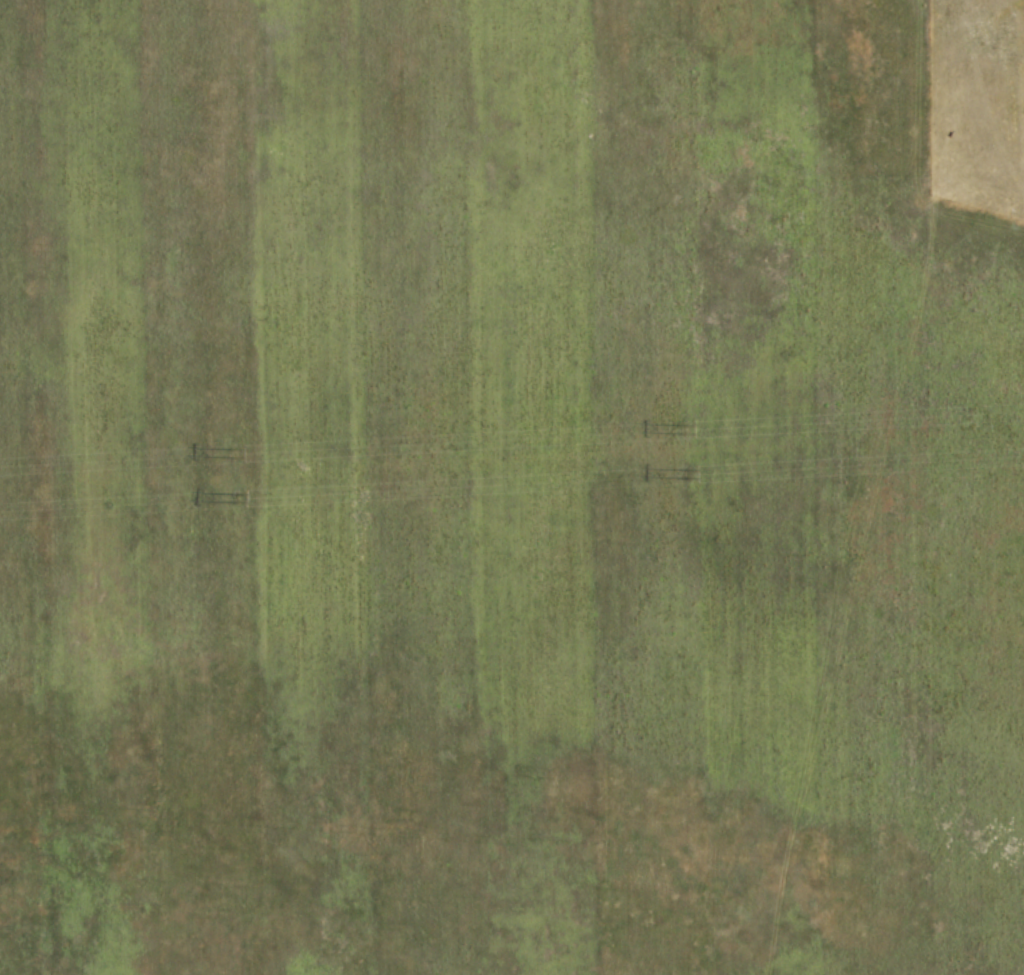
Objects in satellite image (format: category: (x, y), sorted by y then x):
power tower: (684, 428)
power tower: (234, 452)
power tower: (687, 472)
power tower: (237, 496)

